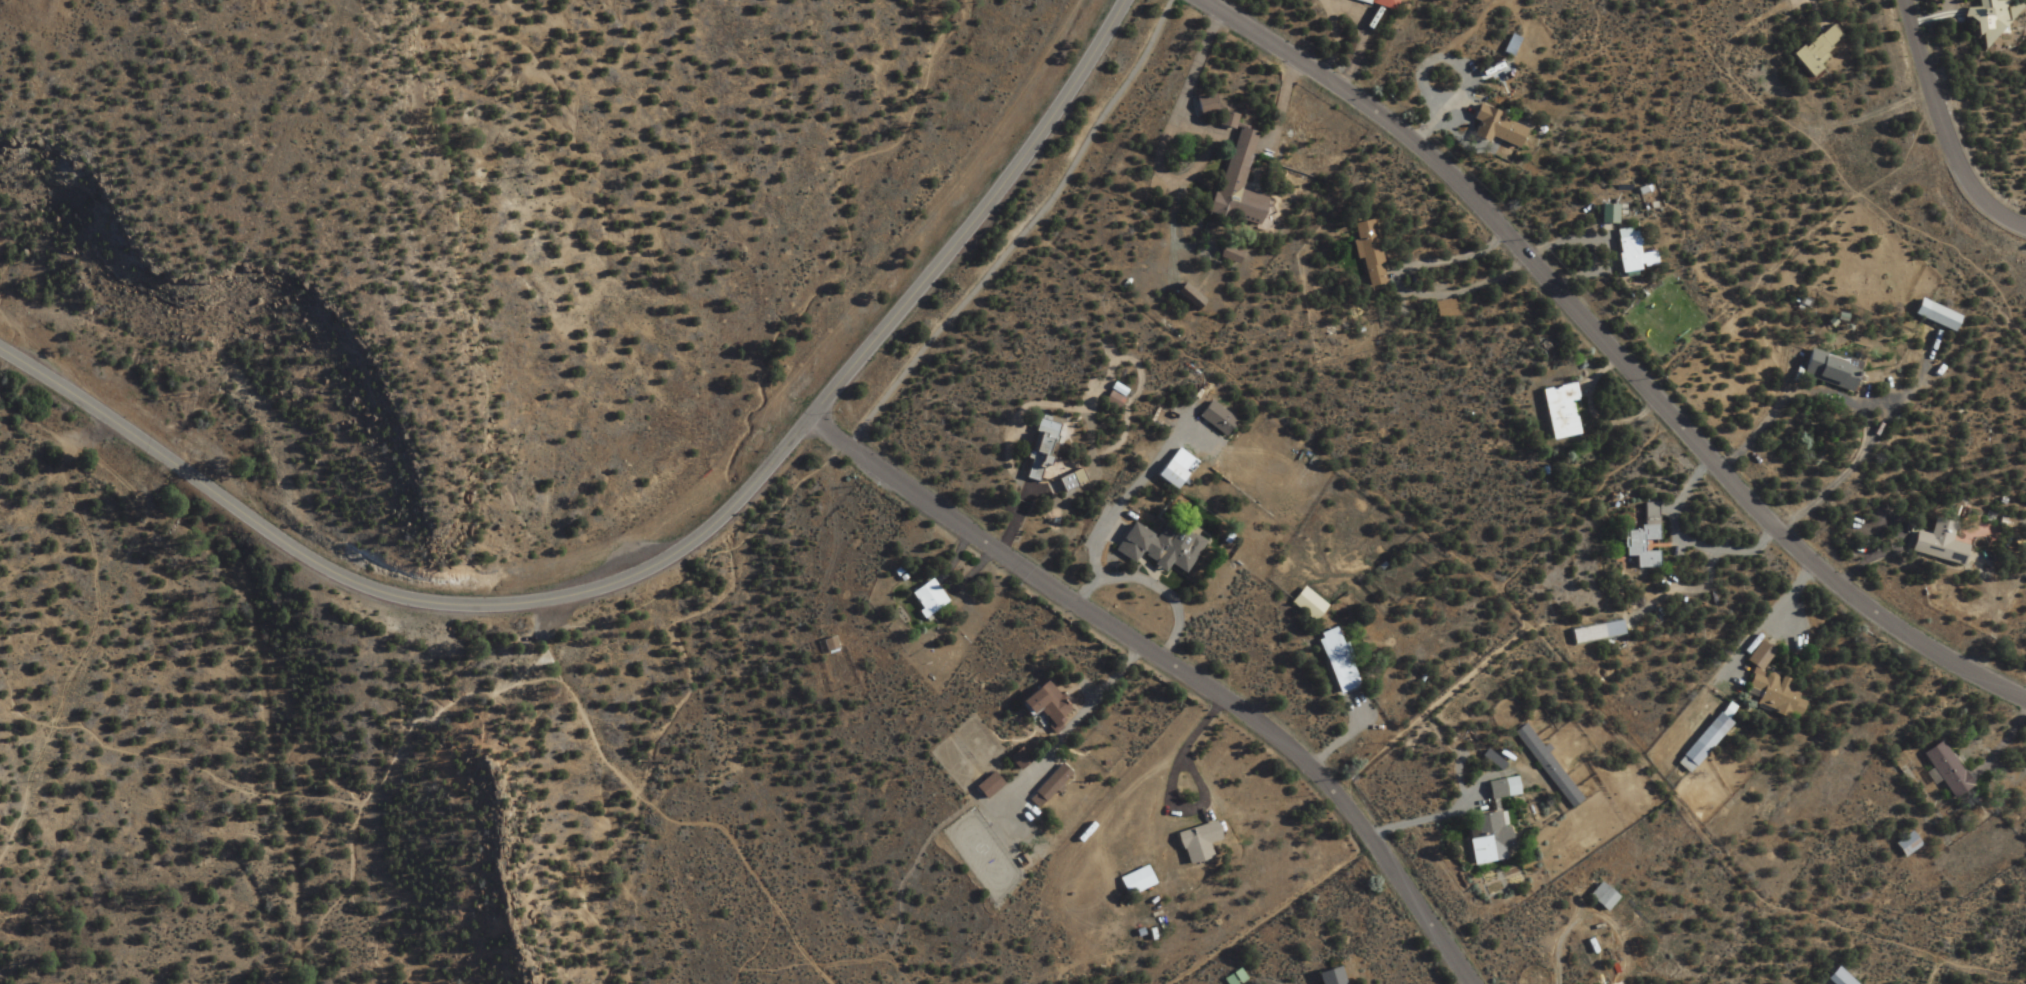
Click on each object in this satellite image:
building: (1385, 3)
road: (1951, 5)
road: (1813, 7)
building: (1982, 18)
building: (1515, 45)
building: (1813, 50)
building: (1212, 104)
road: (1948, 123)
building: (1503, 128)
road: (1800, 138)
building: (1243, 182)
building: (1606, 213)
road: (1020, 229)
building: (1628, 252)
building: (1374, 253)
building: (1234, 255)
road: (1943, 256)
road: (1746, 291)
building: (1194, 299)
building: (1448, 308)
building: (1932, 315)
road: (896, 322)
road: (1612, 350)
building: (1825, 369)
building: (1120, 396)
building: (1557, 410)
building: (1222, 418)
road: (1278, 418)
building: (1047, 447)
building: (1178, 475)
building: (1077, 481)
road: (1575, 492)
building: (1638, 539)
road: (282, 541)
road: (1692, 543)
building: (1934, 543)
building: (1168, 546)
road: (710, 561)
road: (1157, 587)
building: (921, 596)
building: (1305, 604)
road: (548, 623)
building: (1592, 632)
building: (833, 645)
building: (1333, 661)
road: (1736, 662)
road: (85, 665)
road: (1173, 668)
building: (1767, 686)
building: (1055, 703)
building: (1039, 705)
road: (1198, 729)
building: (1698, 743)
road: (162, 757)
building: (1026, 757)
building: (1544, 766)
road: (1649, 768)
building: (1942, 770)
road: (378, 776)
building: (1055, 784)
building: (1499, 788)
road: (1178, 812)
road: (687, 815)
road: (1429, 819)
building: (1487, 838)
building: (1205, 841)
building: (1188, 842)
building: (1903, 845)
road: (629, 872)
building: (1143, 879)
building: (1599, 897)
road: (1271, 913)
road: (316, 929)
road: (763, 944)
road: (1928, 967)
building: (1338, 976)
building: (1321, 977)
building: (1833, 978)

